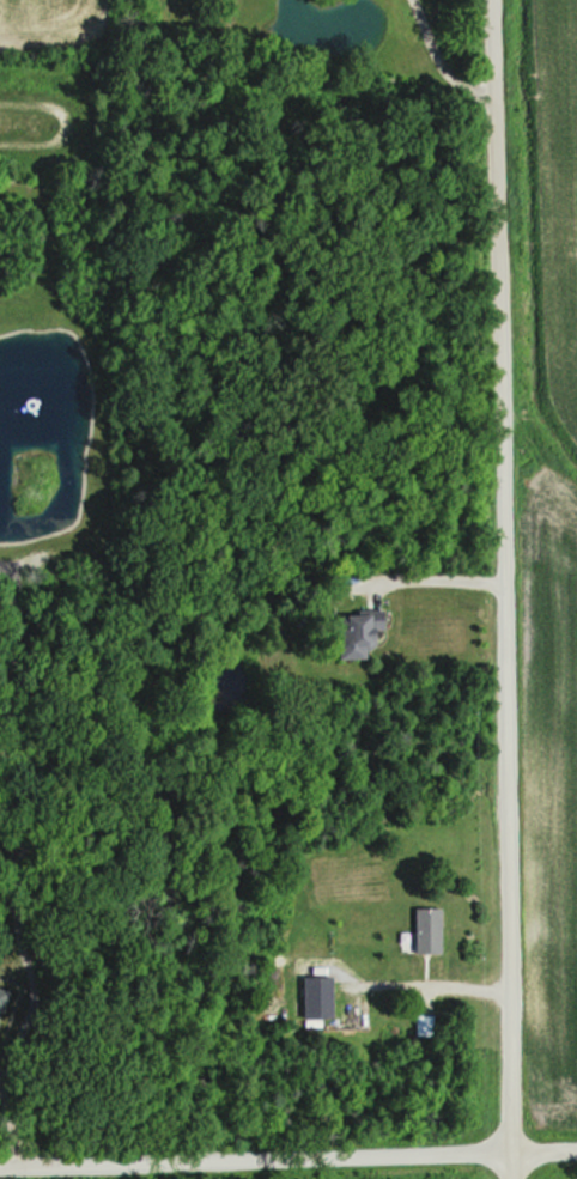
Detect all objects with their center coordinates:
road: (436, 65)
road: (439, 572)
road: (504, 589)
building: (364, 633)
building: (432, 931)
road: (421, 978)
building: (323, 999)
building: (6, 1001)
road: (11, 1131)
road: (287, 1156)

